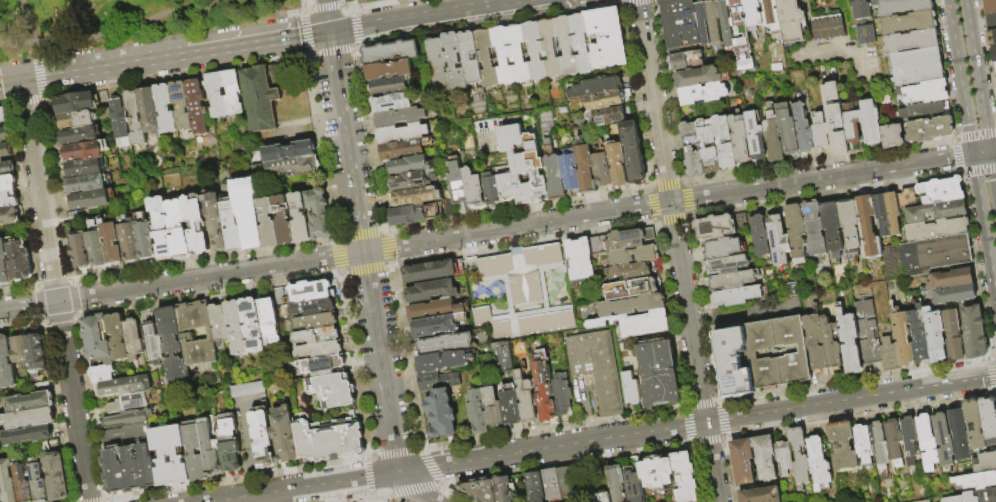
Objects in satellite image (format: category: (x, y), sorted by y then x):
road: (617, 1)
road: (638, 2)
road: (343, 3)
road: (302, 4)
road: (376, 4)
road: (620, 4)
building: (900, 6)
building: (990, 6)
road: (325, 7)
road: (349, 7)
building: (858, 8)
road: (308, 9)
road: (305, 11)
building: (754, 12)
road: (429, 15)
building: (771, 15)
road: (151, 17)
building: (793, 20)
park: (118, 21)
building: (991, 21)
building: (677, 22)
building: (703, 22)
building: (726, 22)
building: (907, 22)
road: (487, 24)
building: (715, 24)
road: (28, 26)
building: (827, 28)
road: (354, 29)
road: (306, 31)
traffic signals: (329, 31)
building: (741, 34)
building: (867, 35)
building: (604, 37)
building: (992, 37)
road: (256, 41)
building: (910, 41)
building: (579, 42)
building: (564, 44)
road: (355, 47)
building: (548, 47)
road: (987, 49)
road: (332, 50)
building: (532, 50)
building: (391, 52)
building: (516, 53)
building: (500, 54)
building: (994, 54)
building: (467, 56)
building: (484, 57)
building: (452, 60)
building: (687, 61)
building: (436, 64)
building: (915, 66)
road: (92, 67)
road: (945, 68)
building: (390, 70)
road: (177, 73)
road: (37, 74)
road: (977, 75)
road: (960, 76)
building: (698, 77)
traffic signals: (21, 79)
building: (391, 86)
building: (599, 88)
building: (925, 92)
building: (234, 94)
building: (705, 94)
building: (217, 97)
building: (260, 98)
road: (40, 99)
road: (25, 101)
building: (607, 101)
road: (5, 102)
building: (75, 102)
building: (394, 102)
building: (181, 105)
building: (197, 106)
building: (165, 108)
building: (149, 110)
building: (921, 111)
building: (3, 114)
building: (401, 117)
building: (607, 117)
building: (76, 118)
building: (135, 118)
building: (833, 118)
building: (119, 119)
building: (869, 121)
building: (0, 125)
road: (344, 125)
building: (786, 127)
building: (802, 128)
building: (851, 128)
building: (928, 128)
building: (818, 129)
road: (976, 132)
building: (3, 134)
building: (78, 134)
building: (404, 134)
building: (754, 135)
building: (891, 135)
building: (772, 136)
building: (738, 137)
road: (953, 137)
road: (370, 140)
building: (717, 141)
road: (322, 143)
building: (713, 147)
building: (691, 149)
building: (5, 150)
building: (84, 150)
building: (403, 150)
road: (993, 150)
traffic signals: (990, 151)
road: (981, 152)
building: (631, 153)
traffic signals: (973, 154)
road: (954, 155)
building: (291, 158)
building: (516, 161)
building: (411, 165)
building: (616, 165)
building: (83, 167)
building: (6, 168)
building: (584, 169)
building: (601, 169)
road: (992, 169)
road: (979, 171)
building: (570, 172)
road: (959, 172)
road: (727, 174)
building: (537, 177)
building: (554, 178)
road: (821, 178)
building: (410, 181)
building: (7, 183)
building: (85, 183)
building: (458, 184)
building: (506, 186)
building: (474, 188)
building: (492, 190)
building: (939, 190)
road: (56, 192)
road: (604, 193)
road: (23, 195)
building: (904, 195)
building: (419, 196)
building: (89, 199)
building: (8, 200)
building: (451, 209)
road: (728, 209)
building: (934, 210)
road: (671, 211)
building: (248, 212)
building: (886, 212)
building: (318, 214)
building: (416, 215)
building: (9, 216)
building: (300, 218)
building: (215, 220)
building: (283, 220)
building: (268, 223)
building: (195, 225)
building: (851, 225)
road: (984, 225)
building: (232, 226)
building: (160, 227)
road: (517, 227)
building: (717, 227)
building: (815, 228)
building: (834, 228)
building: (868, 228)
building: (934, 228)
building: (178, 229)
building: (797, 230)
road: (359, 233)
building: (146, 235)
building: (761, 236)
road: (339, 237)
building: (131, 240)
building: (619, 240)
road: (334, 241)
building: (779, 241)
building: (112, 243)
building: (96, 244)
road: (524, 244)
road: (387, 248)
building: (723, 249)
building: (80, 251)
road: (337, 254)
building: (937, 254)
building: (632, 255)
road: (204, 259)
building: (578, 259)
building: (19, 261)
building: (894, 263)
road: (974, 263)
road: (390, 264)
building: (3, 265)
building: (728, 265)
road: (388, 267)
road: (340, 270)
building: (630, 270)
road: (365, 271)
building: (435, 271)
road: (344, 274)
road: (72, 280)
road: (182, 280)
building: (952, 280)
building: (733, 281)
road: (54, 283)
road: (34, 287)
building: (630, 288)
road: (17, 289)
building: (790, 289)
road: (55, 290)
building: (312, 291)
building: (433, 291)
building: (519, 291)
road: (210, 293)
building: (955, 295)
road: (75, 297)
building: (737, 297)
road: (36, 304)
building: (630, 305)
building: (313, 307)
building: (436, 310)
road: (79, 312)
road: (669, 315)
road: (78, 316)
road: (75, 318)
building: (268, 318)
road: (59, 320)
building: (317, 321)
road: (40, 322)
building: (643, 323)
road: (20, 324)
building: (219, 324)
building: (252, 325)
building: (437, 326)
building: (236, 328)
building: (970, 329)
building: (866, 332)
building: (196, 334)
building: (918, 334)
building: (934, 334)
building: (952, 334)
building: (317, 335)
building: (901, 336)
building: (117, 337)
building: (97, 338)
building: (133, 340)
building: (848, 341)
building: (814, 342)
building: (153, 344)
building: (172, 344)
building: (447, 344)
building: (830, 347)
building: (18, 350)
building: (319, 350)
building: (34, 351)
building: (802, 352)
road: (994, 353)
building: (888, 354)
road: (988, 355)
road: (406, 356)
building: (505, 358)
road: (382, 361)
building: (444, 361)
building: (732, 361)
building: (6, 363)
building: (323, 364)
road: (356, 364)
building: (595, 367)
building: (657, 372)
building: (102, 374)
road: (991, 376)
road: (853, 380)
building: (126, 386)
building: (545, 387)
building: (632, 389)
building: (247, 390)
building: (331, 390)
road: (993, 393)
building: (563, 395)
building: (526, 398)
road: (851, 398)
building: (27, 400)
building: (441, 402)
road: (702, 402)
building: (127, 403)
building: (512, 405)
road: (90, 408)
building: (494, 408)
road: (55, 412)
building: (480, 413)
road: (860, 414)
building: (28, 417)
road: (722, 418)
building: (987, 418)
building: (128, 419)
traffic signals: (706, 422)
building: (972, 423)
road: (687, 424)
road: (555, 426)
building: (957, 433)
building: (29, 434)
building: (284, 434)
road: (726, 436)
building: (893, 438)
building: (941, 438)
building: (328, 439)
building: (909, 439)
building: (263, 440)
building: (925, 441)
building: (228, 442)
road: (707, 442)
building: (863, 443)
road: (691, 444)
building: (842, 445)
building: (879, 446)
road: (421, 447)
building: (209, 449)
building: (995, 449)
road: (396, 450)
building: (194, 453)
road: (369, 455)
building: (164, 456)
building: (765, 457)
building: (799, 457)
building: (784, 458)
building: (743, 460)
building: (818, 461)
building: (983, 461)
building: (129, 462)
road: (459, 462)
road: (712, 462)
road: (566, 463)
road: (431, 466)
road: (727, 470)
traffic signals: (402, 471)
building: (654, 472)
road: (695, 473)
building: (54, 476)
road: (367, 476)
building: (682, 476)
building: (629, 477)
road: (235, 478)
building: (613, 479)
building: (974, 479)
building: (8, 481)
road: (405, 481)
building: (564, 482)
building: (22, 483)
building: (38, 483)
road: (441, 484)
building: (549, 484)
building: (532, 486)
road: (424, 488)
building: (478, 488)
building: (502, 488)
road: (401, 493)
road: (369, 494)
road: (454, 494)
building: (760, 495)
building: (1, 496)
road: (381, 496)
building: (973, 496)
road: (418, 497)
building: (600, 497)
road: (104, 499)
road: (352, 499)
road: (370, 499)
road: (373, 499)
road: (88, 500)
park: (365, 501)

